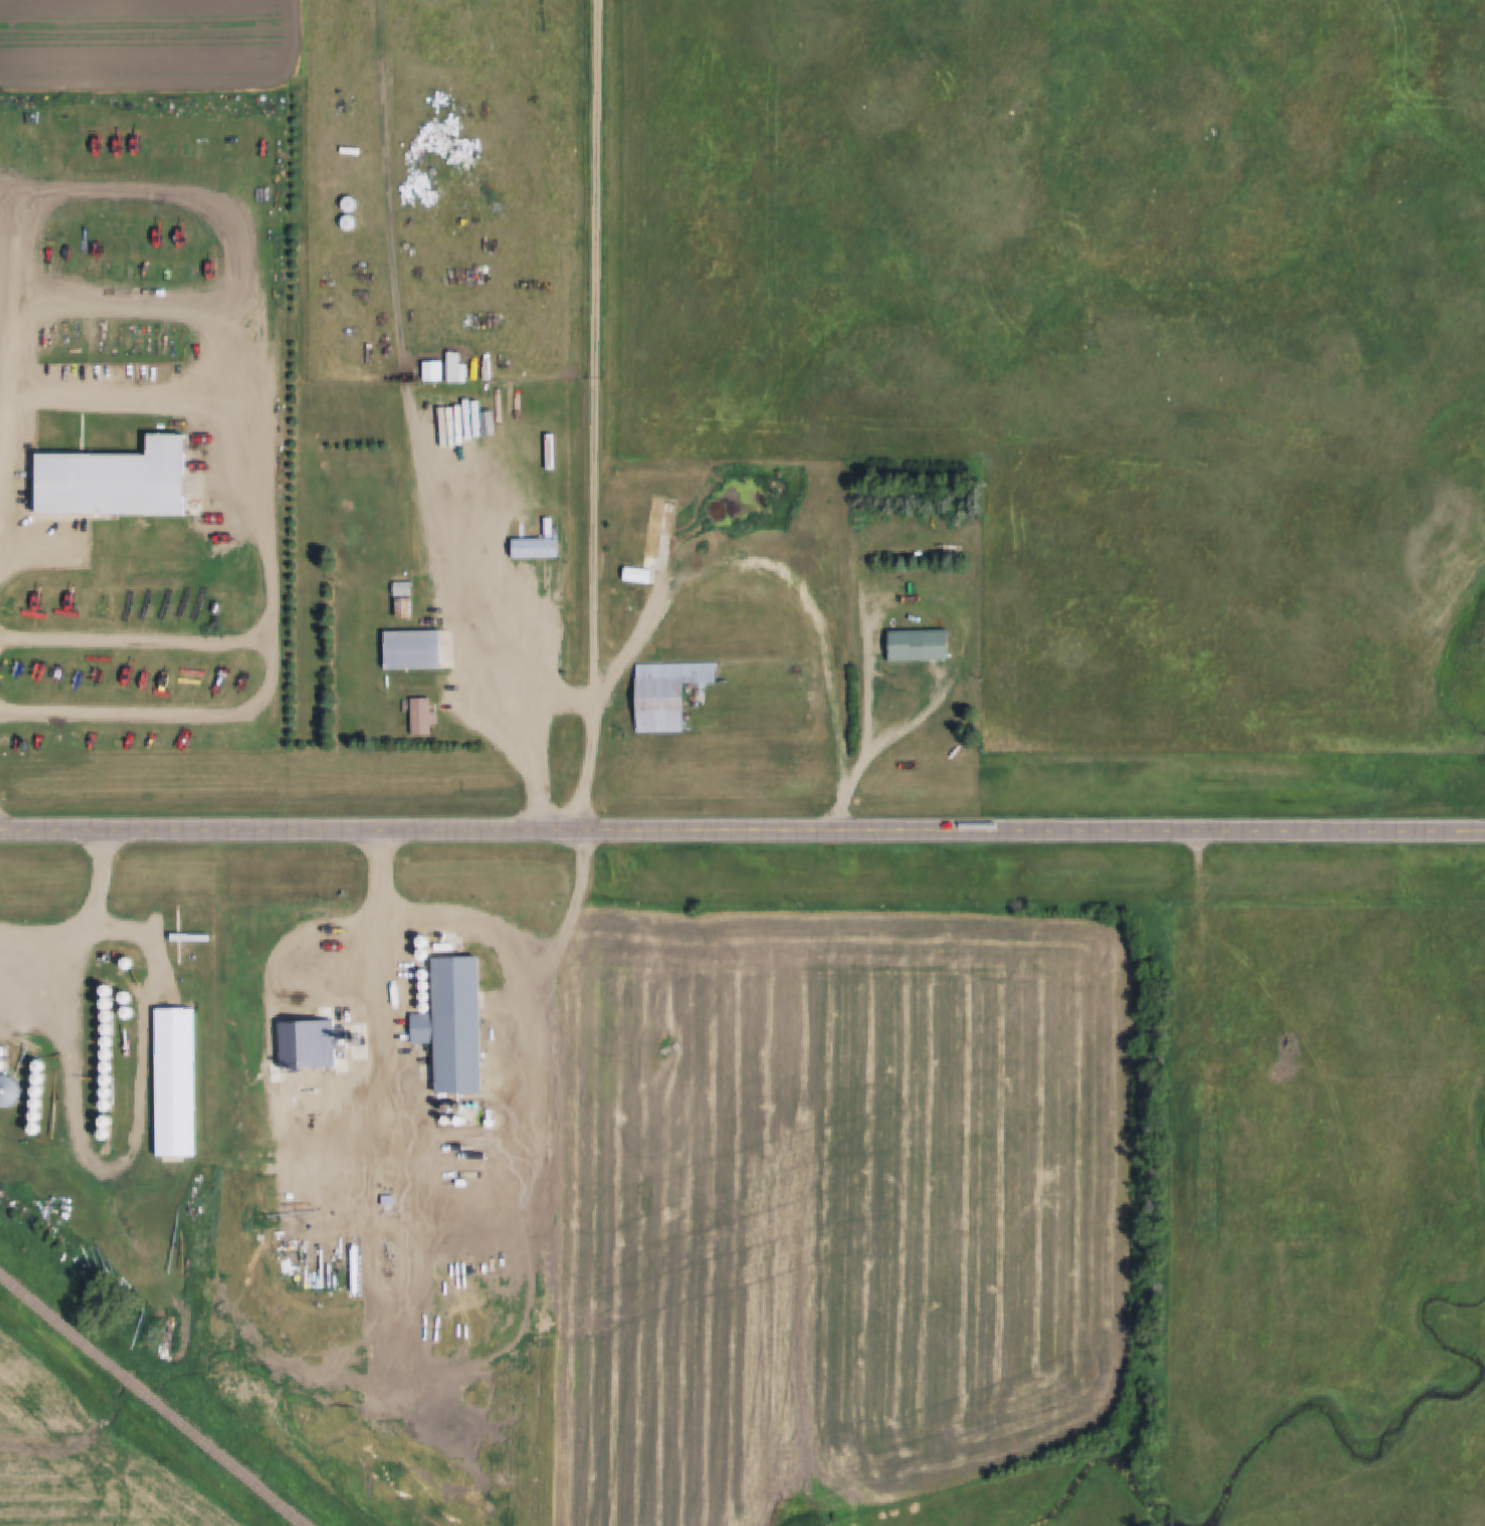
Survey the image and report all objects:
road: (394, 209)
road: (253, 216)
building: (434, 369)
building: (462, 372)
road: (600, 416)
building: (547, 453)
building: (116, 479)
road: (272, 513)
building: (536, 547)
building: (639, 575)
building: (558, 583)
building: (404, 588)
building: (403, 607)
road: (500, 620)
road: (833, 632)
road: (139, 639)
building: (919, 645)
building: (412, 650)
road: (629, 653)
building: (793, 671)
building: (672, 691)
building: (423, 716)
road: (907, 734)
road: (1098, 830)
road: (355, 831)
road: (569, 913)
road: (93, 933)
building: (423, 940)
silo: (423, 940)
building: (423, 954)
silo: (423, 954)
building: (128, 962)
silo: (128, 962)
building: (142, 962)
silo: (142, 962)
building: (424, 973)
silo: (424, 973)
building: (424, 984)
silo: (424, 984)
building: (107, 990)
silo: (107, 990)
building: (424, 996)
silo: (424, 996)
building: (107, 1003)
silo: (107, 1003)
building: (425, 1007)
silo: (425, 1007)
building: (110, 1016)
silo: (110, 1016)
building: (454, 1025)
building: (110, 1029)
silo: (110, 1029)
building: (110, 1042)
silo: (110, 1042)
building: (310, 1042)
building: (110, 1054)
silo: (110, 1054)
building: (343, 1054)
silo: (343, 1054)
building: (160, 1061)
building: (41, 1065)
silo: (41, 1065)
building: (109, 1067)
silo: (109, 1067)
building: (40, 1078)
silo: (40, 1078)
building: (109, 1079)
silo: (109, 1079)
building: (10, 1090)
silo: (10, 1090)
building: (39, 1090)
silo: (39, 1090)
building: (108, 1092)
silo: (108, 1092)
building: (37, 1103)
silo: (37, 1103)
building: (107, 1104)
silo: (107, 1104)
building: (37, 1116)
silo: (37, 1116)
building: (448, 1120)
storage tank: (448, 1120)
building: (463, 1120)
storage tank: (463, 1120)
building: (106, 1121)
silo: (106, 1121)
building: (36, 1128)
silo: (36, 1128)
building: (106, 1134)
silo: (106, 1134)
road: (518, 1156)
building: (389, 1199)
building: (391, 1258)
storage tank: (391, 1258)
building: (356, 1268)
storage tank: (356, 1268)
railway: (155, 1397)

